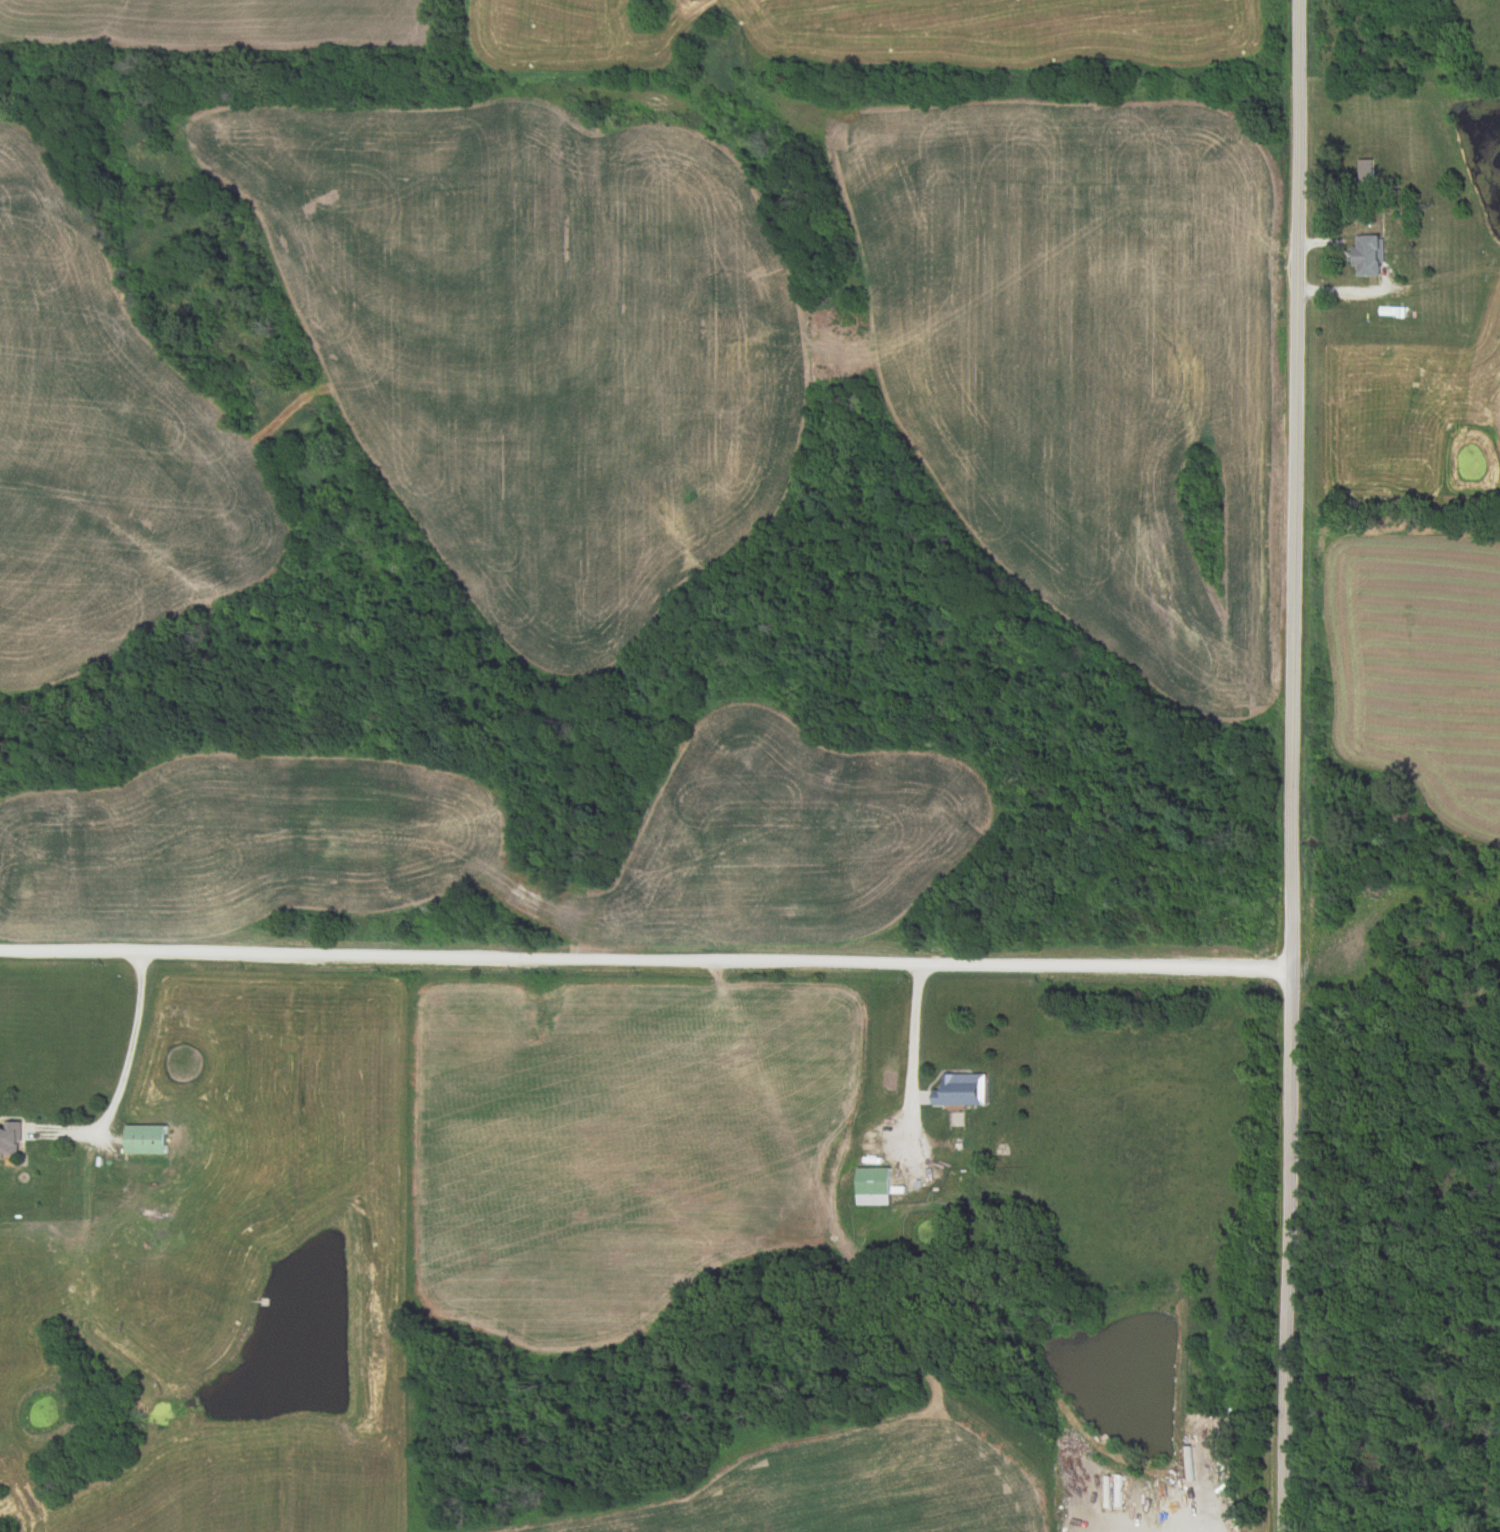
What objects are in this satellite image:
road: (1400, 13)
building: (1367, 257)
road: (1349, 291)
road: (1295, 766)
road: (647, 962)
road: (911, 1063)
road: (121, 1083)
building: (961, 1091)
building: (12, 1140)
building: (146, 1141)
building: (872, 1187)
road: (1187, 1511)

